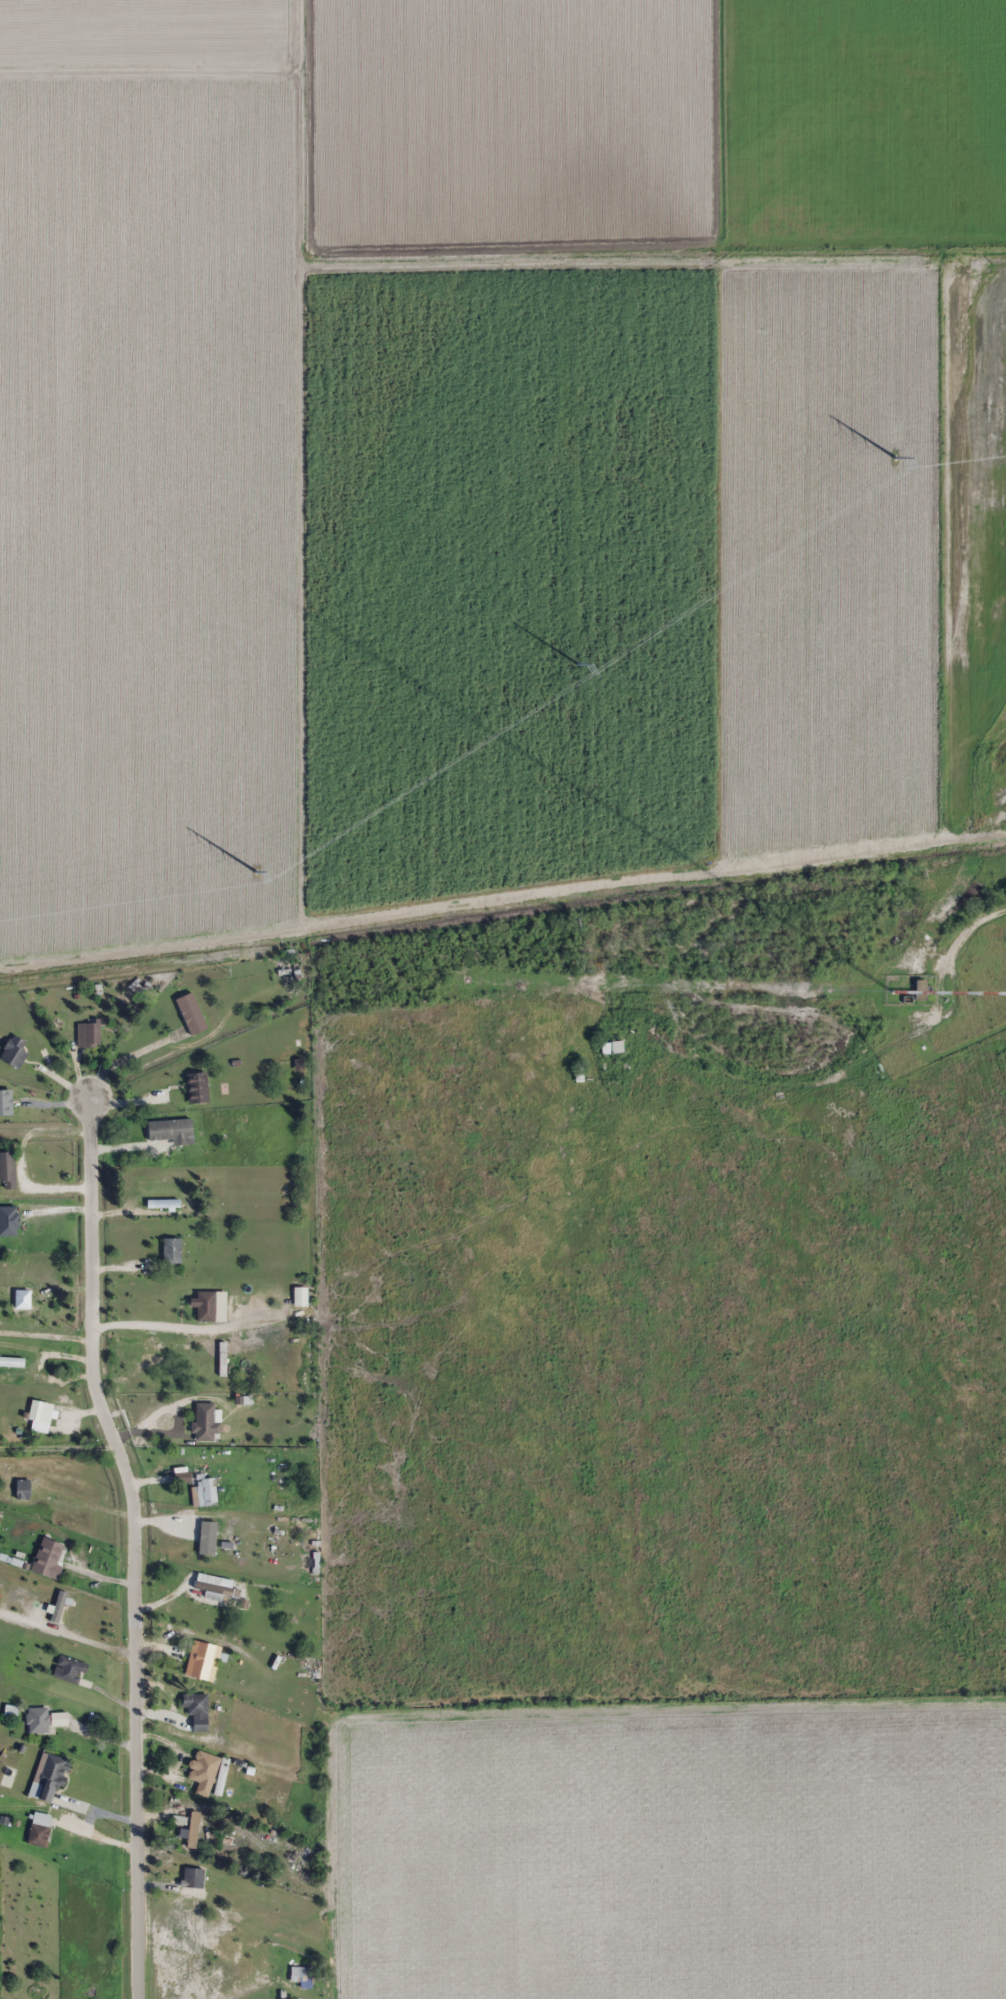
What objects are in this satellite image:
power tower: (897, 454)
power tower: (578, 661)
power tower: (255, 871)
power tower: (919, 875)
power tower: (575, 924)
road: (136, 940)
power tower: (225, 971)
building: (919, 991)
building: (192, 1014)
building: (89, 1034)
building: (15, 1051)
building: (612, 1057)
building: (198, 1087)
building: (10, 1102)
building: (172, 1131)
building: (8, 1169)
building: (163, 1203)
building: (172, 1251)
building: (301, 1296)
building: (24, 1301)
building: (206, 1305)
building: (155, 1345)
building: (41, 1410)
building: (205, 1421)
road: (59, 1451)
building: (24, 1488)
road: (134, 1535)
building: (228, 1545)
building: (48, 1557)
building: (203, 1660)
building: (70, 1669)
building: (198, 1710)
building: (45, 1719)
building: (198, 1770)
building: (50, 1775)
building: (40, 1829)
building: (193, 1830)
building: (194, 1877)

